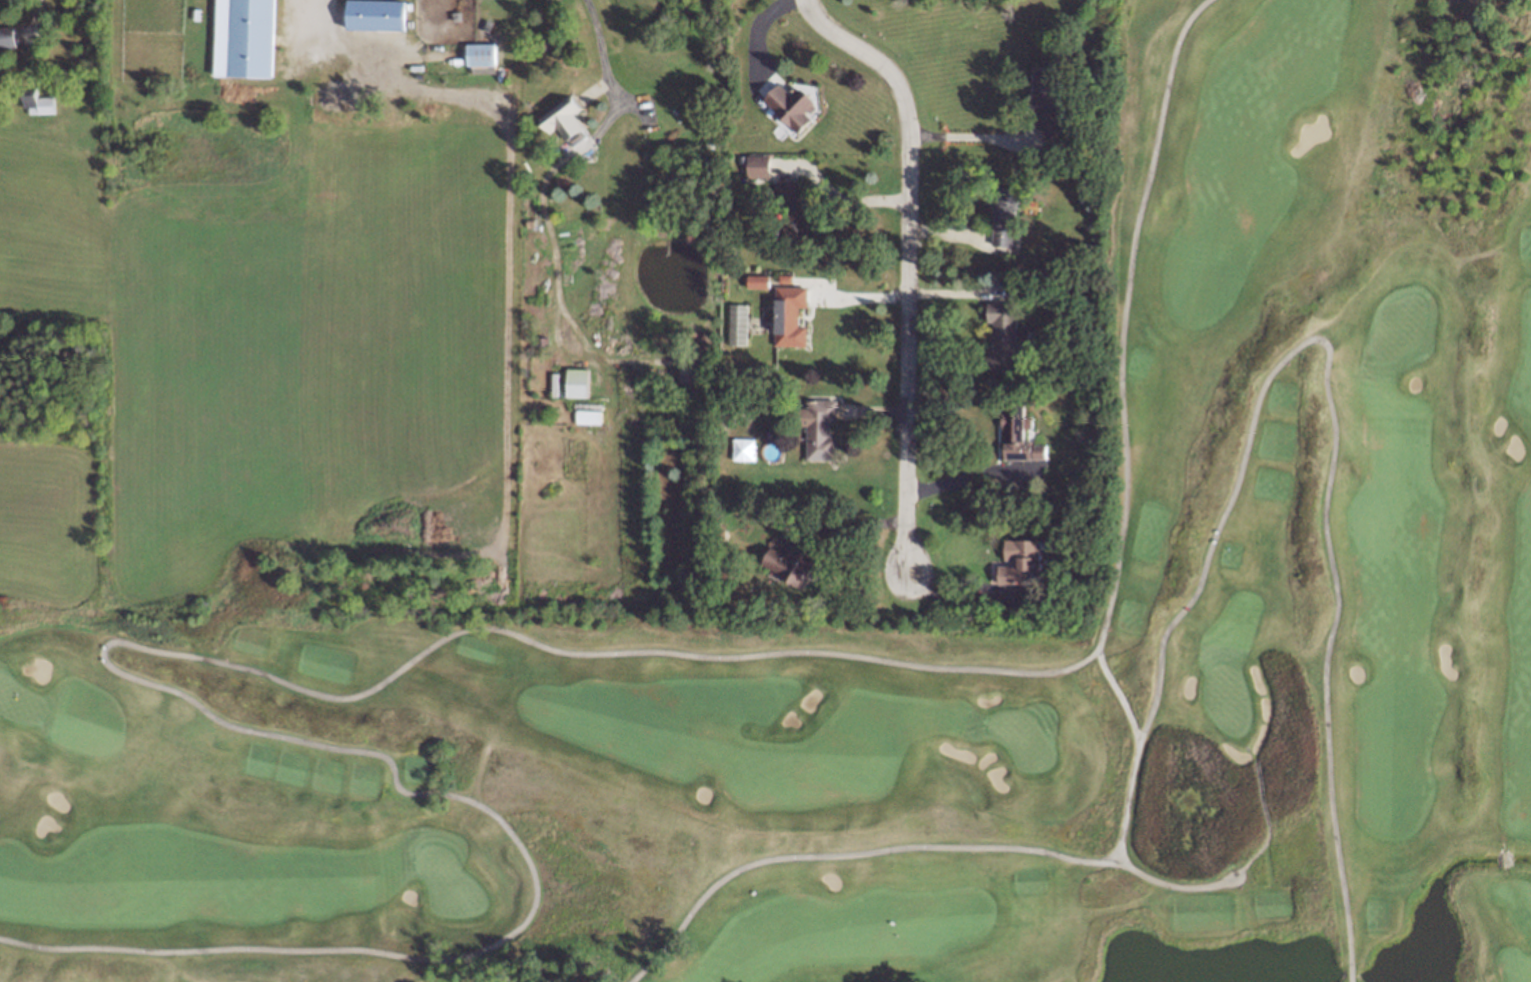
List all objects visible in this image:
road: (318, 9)
building: (377, 15)
road: (597, 36)
building: (6, 38)
building: (252, 39)
building: (482, 55)
building: (1049, 98)
building: (38, 103)
building: (789, 104)
building: (562, 118)
road: (968, 135)
building: (758, 165)
road: (849, 201)
building: (794, 210)
building: (1006, 216)
road: (912, 265)
building: (759, 281)
building: (790, 316)
road: (1124, 318)
building: (738, 324)
building: (1005, 336)
crop: (254, 360)
building: (690, 373)
building: (577, 383)
building: (588, 417)
building: (820, 430)
building: (1018, 431)
road: (1335, 431)
road: (961, 479)
road: (844, 523)
building: (1024, 559)
building: (793, 565)
road: (950, 601)
park: (930, 636)
road: (420, 650)
road: (1192, 884)

